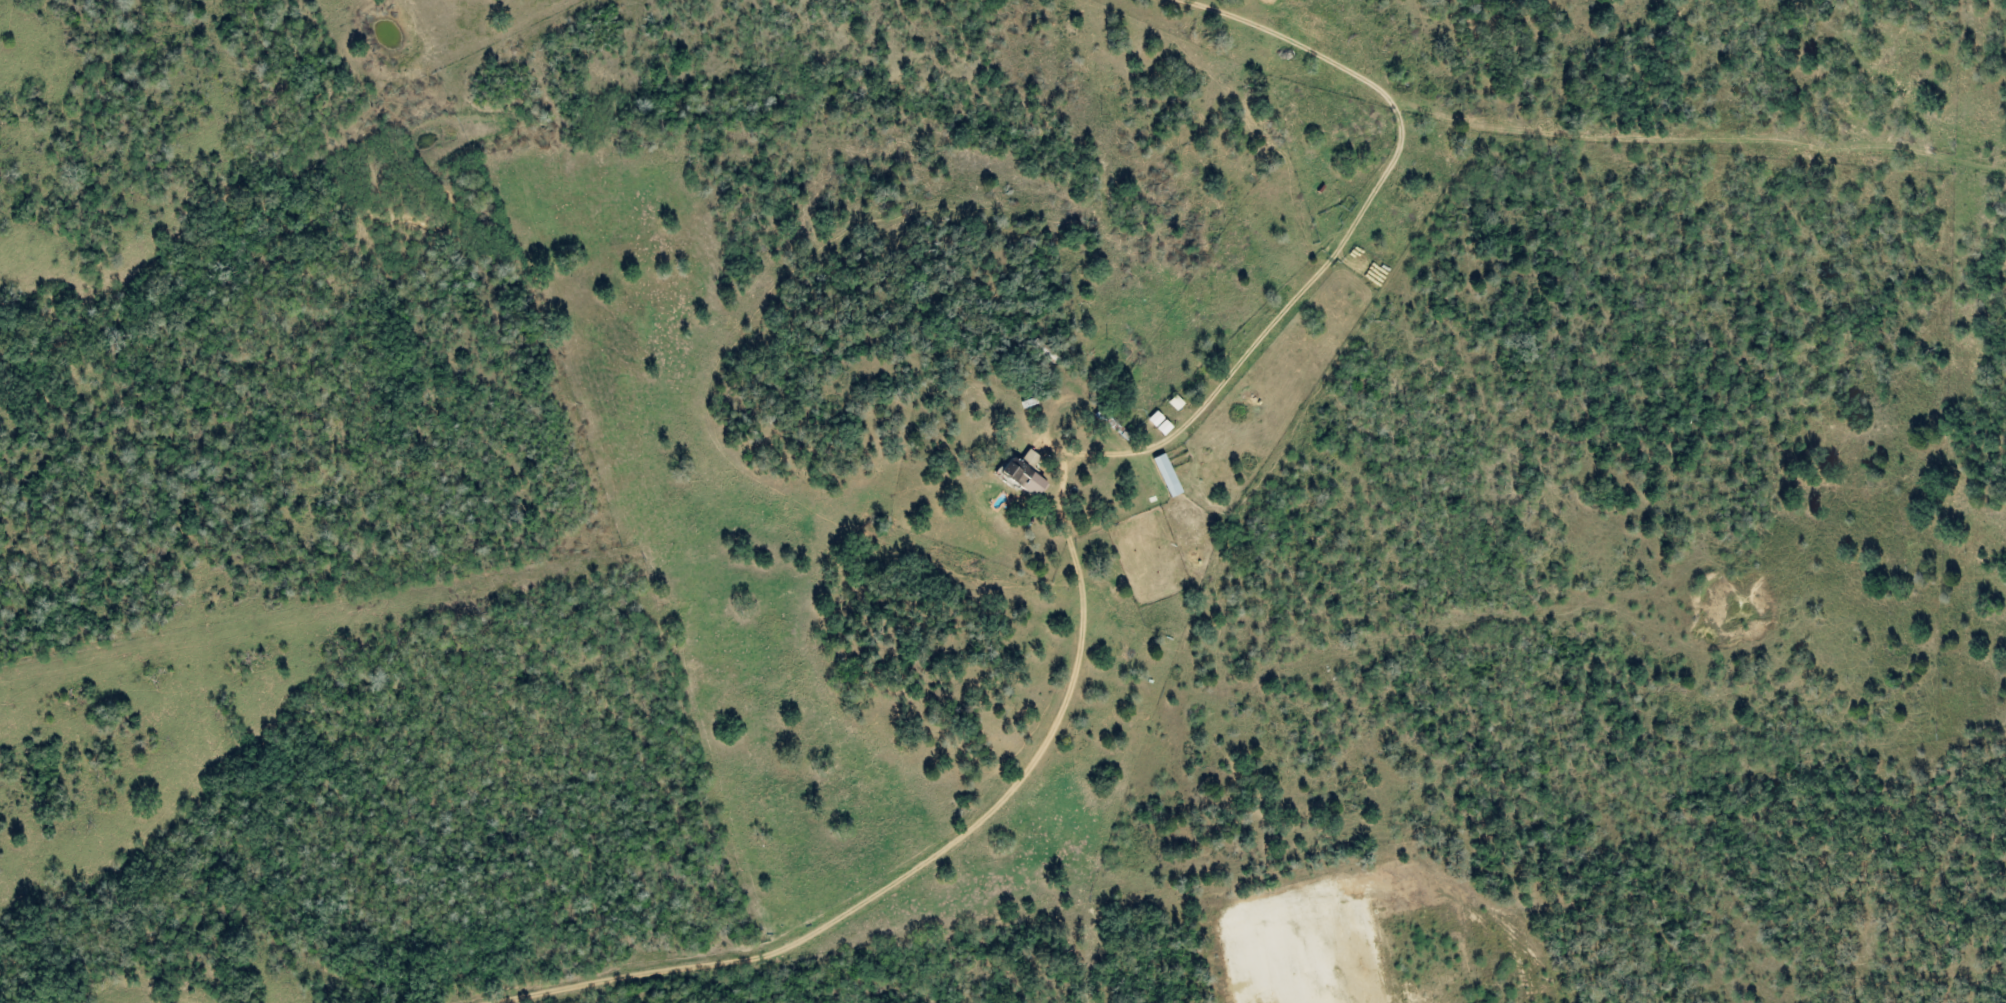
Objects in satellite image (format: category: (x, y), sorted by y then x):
road: (1545, 146)
building: (1178, 403)
building: (1161, 424)
building: (1034, 458)
building: (1170, 476)
building: (1026, 479)

